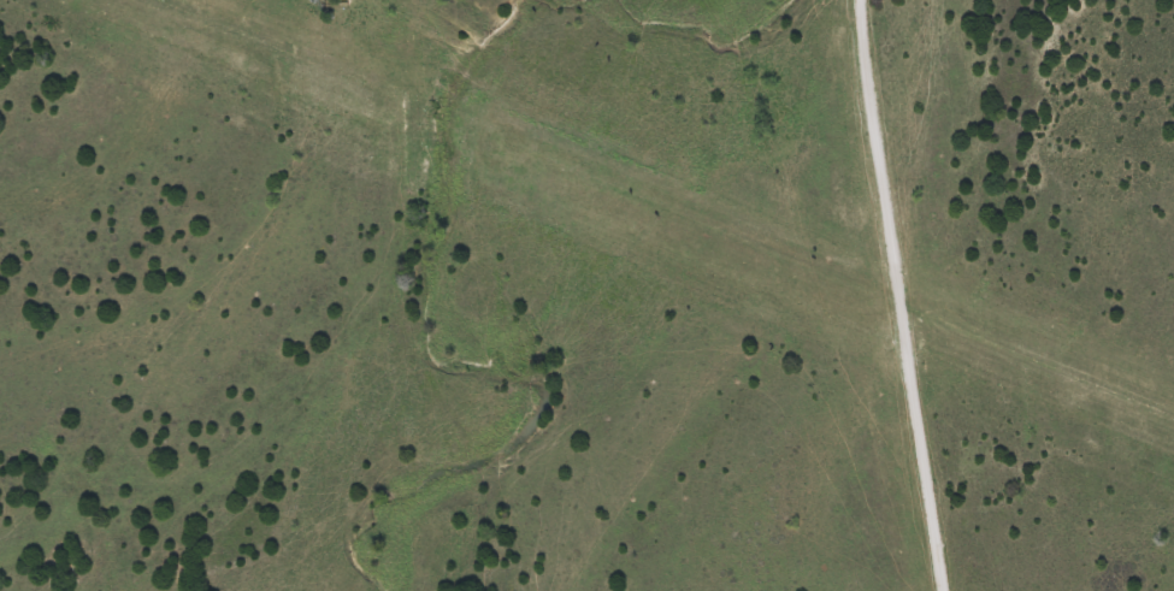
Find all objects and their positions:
road: (892, 295)

